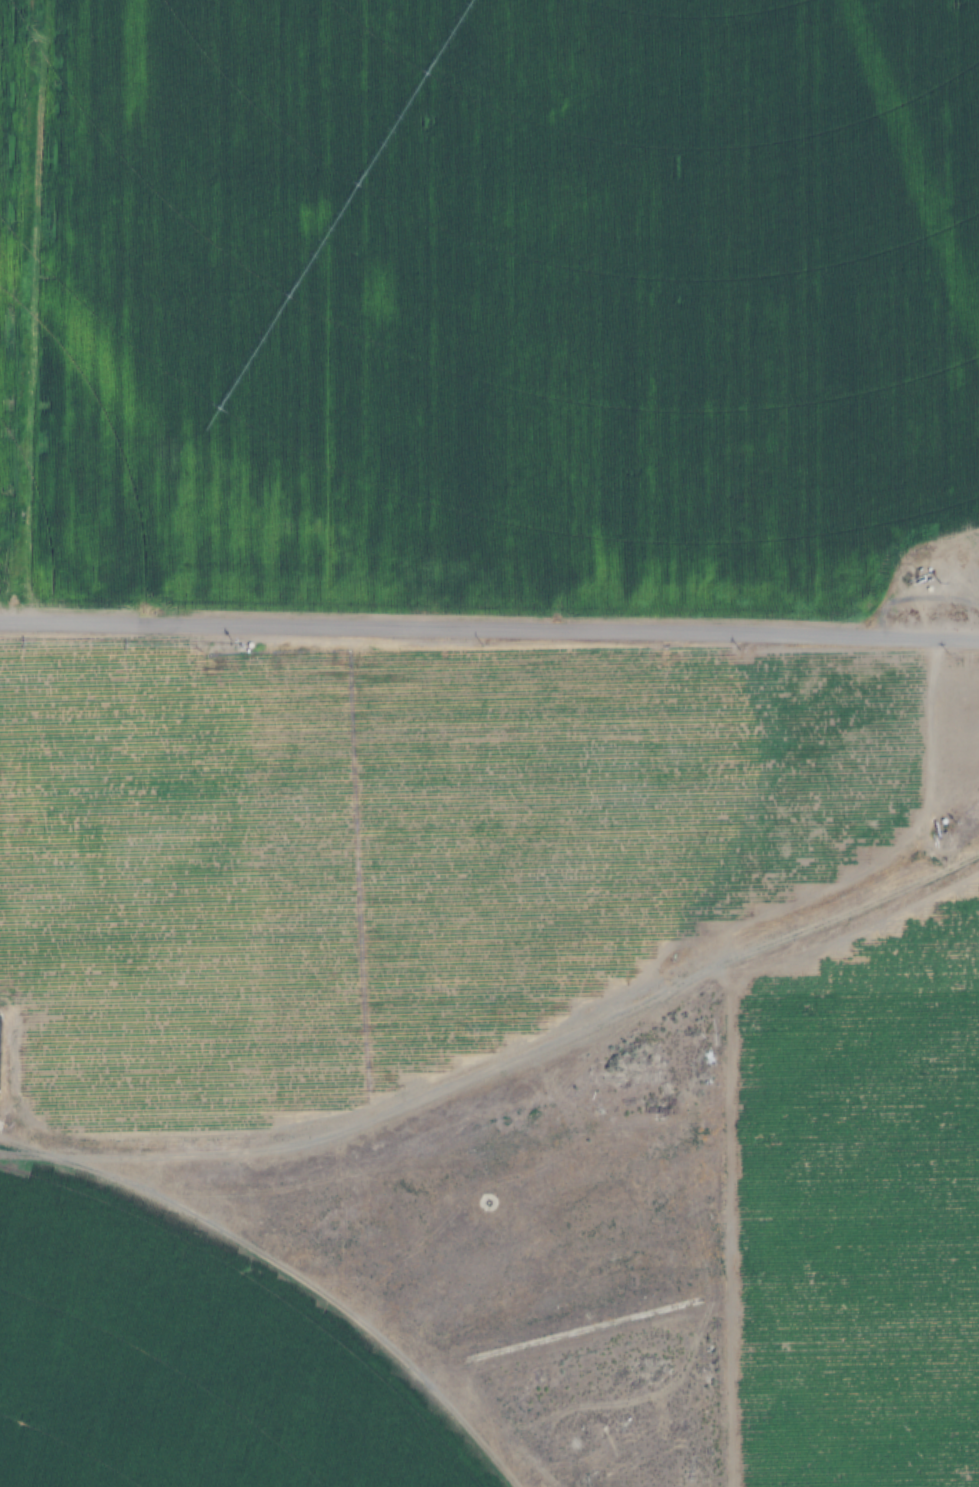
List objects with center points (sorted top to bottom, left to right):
crop: (528, 276)
crop: (58, 488)
road: (489, 627)
crop: (328, 851)
crop: (884, 1191)
crop: (176, 1366)
building: (55, 1483)

